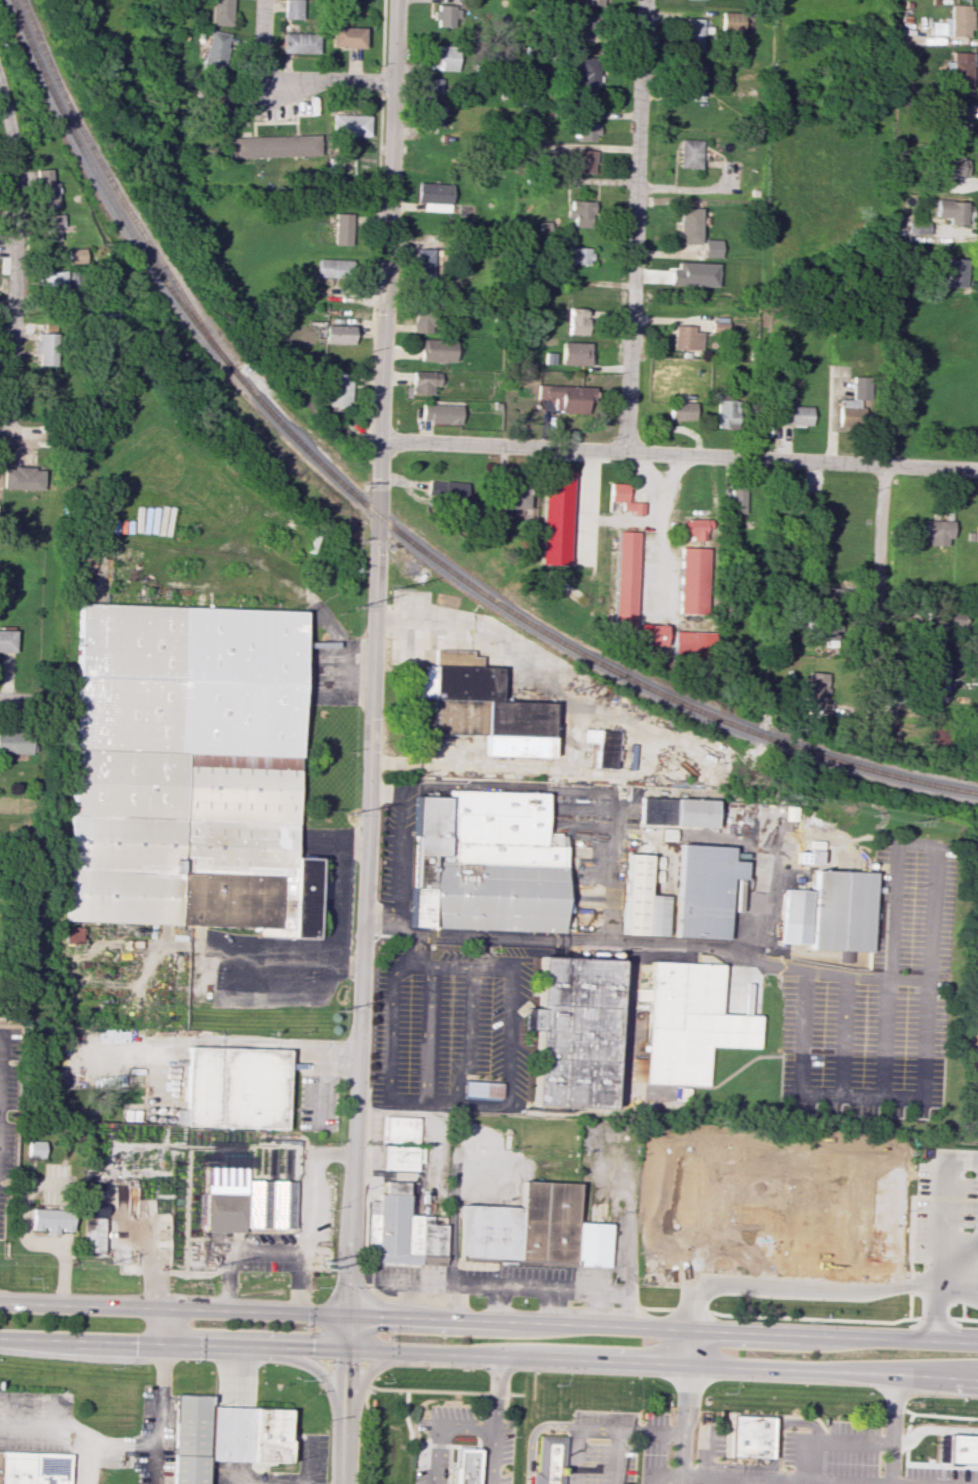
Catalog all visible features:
building: (593, 2)
building: (292, 9)
building: (222, 12)
building: (446, 15)
building: (958, 20)
building: (731, 21)
building: (591, 25)
building: (693, 34)
road: (383, 36)
building: (346, 37)
building: (299, 42)
road: (259, 43)
building: (216, 53)
building: (441, 55)
building: (958, 73)
building: (586, 74)
road: (332, 79)
park: (122, 81)
building: (694, 82)
building: (430, 89)
building: (213, 99)
building: (431, 117)
building: (956, 122)
building: (349, 125)
building: (585, 126)
building: (275, 146)
building: (688, 153)
building: (579, 161)
building: (949, 166)
railway: (114, 184)
building: (46, 189)
road: (688, 189)
building: (433, 192)
building: (949, 210)
building: (581, 213)
road: (633, 225)
building: (687, 225)
building: (51, 226)
building: (342, 228)
building: (710, 248)
building: (75, 255)
building: (579, 255)
road: (13, 260)
building: (422, 265)
building: (334, 268)
building: (954, 272)
building: (692, 274)
building: (52, 280)
building: (424, 321)
building: (577, 321)
building: (339, 334)
building: (686, 338)
building: (46, 348)
building: (437, 350)
building: (575, 353)
building: (424, 382)
building: (339, 388)
building: (566, 397)
building: (852, 403)
building: (681, 410)
building: (440, 413)
building: (726, 413)
building: (791, 413)
road: (16, 435)
road: (679, 453)
building: (22, 478)
road: (659, 483)
building: (448, 491)
building: (514, 495)
building: (623, 498)
building: (736, 501)
road: (587, 505)
building: (555, 518)
road: (641, 520)
railway: (388, 524)
building: (696, 529)
building: (937, 532)
building: (977, 532)
road: (657, 566)
building: (625, 577)
building: (693, 580)
power tower: (390, 586)
road: (878, 596)
power tower: (354, 606)
building: (940, 624)
building: (823, 629)
building: (651, 634)
building: (7, 640)
building: (693, 643)
road: (547, 682)
power tower: (571, 691)
building: (816, 691)
road: (21, 700)
building: (482, 706)
building: (939, 737)
building: (15, 742)
road: (369, 742)
building: (603, 746)
road: (419, 762)
building: (189, 769)
road: (385, 791)
road: (507, 792)
power tower: (775, 799)
building: (676, 811)
power tower: (346, 813)
power tower: (913, 818)
road: (401, 856)
building: (807, 857)
building: (485, 863)
road: (610, 868)
building: (653, 875)
building: (704, 889)
building: (641, 898)
road: (338, 902)
building: (842, 910)
building: (795, 916)
building: (566, 923)
building: (76, 934)
road: (418, 950)
building: (846, 956)
road: (474, 967)
road: (795, 968)
power tower: (337, 1011)
building: (689, 1022)
building: (572, 1032)
road: (432, 1034)
road: (468, 1036)
road: (510, 1036)
road: (252, 1043)
road: (390, 1045)
building: (636, 1070)
building: (237, 1087)
road: (2, 1089)
building: (481, 1090)
road: (860, 1097)
road: (468, 1103)
building: (399, 1129)
building: (36, 1148)
building: (399, 1158)
street lamp: (923, 1160)
street lamp: (966, 1174)
road: (946, 1198)
building: (247, 1201)
parking lot: (969, 1202)
street lamp: (909, 1209)
building: (96, 1210)
parking lot: (921, 1211)
building: (52, 1220)
building: (401, 1229)
building: (533, 1229)
street lamp: (964, 1229)
building: (93, 1235)
road: (958, 1242)
road: (303, 1247)
road: (150, 1256)
road: (910, 1257)
power tower: (102, 1259)
power tower: (211, 1263)
power tower: (327, 1266)
street lamp: (919, 1266)
road: (191, 1274)
road: (962, 1278)
road: (519, 1288)
road: (870, 1289)
street lamp: (759, 1299)
road: (410, 1301)
street lamp: (812, 1301)
road: (454, 1303)
street lamp: (863, 1303)
road: (497, 1305)
road: (553, 1307)
road: (961, 1307)
road: (921, 1308)
road: (597, 1309)
road: (935, 1309)
road: (946, 1310)
street lamp: (913, 1314)
traffic signals: (346, 1317)
road: (809, 1318)
street lamp: (809, 1321)
road: (489, 1322)
road: (161, 1325)
street lamp: (975, 1325)
traffic signals: (343, 1346)
road: (488, 1358)
road: (308, 1364)
road: (363, 1374)
road: (936, 1384)
road: (395, 1389)
street lamp: (726, 1392)
road: (496, 1394)
street lamp: (909, 1401)
road: (688, 1407)
street lamp: (609, 1408)
parking lot: (449, 1411)
street lamp: (672, 1412)
street lamp: (793, 1412)
parking lot: (604, 1415)
road: (765, 1415)
road: (945, 1415)
street lamp: (569, 1418)
street lamp: (882, 1419)
street lamp: (413, 1428)
road: (464, 1428)
road: (932, 1428)
road: (893, 1429)
road: (533, 1432)
road: (626, 1432)
street lamp: (515, 1435)
building: (254, 1436)
building: (750, 1436)
building: (190, 1438)
road: (579, 1438)
road: (828, 1440)
parking lot: (506, 1441)
parking lot: (720, 1441)
road: (414, 1444)
parking lot: (654, 1448)
building: (962, 1448)
road: (132, 1450)
road: (705, 1450)
road: (774, 1450)
parking lot: (831, 1454)
building: (549, 1461)
parking lot: (419, 1462)
road: (86, 1463)
road: (907, 1463)
parking lot: (609, 1464)
building: (464, 1465)
road: (481, 1465)
building: (32, 1469)
street lamp: (523, 1473)
street lamp: (637, 1475)
parking lot: (939, 1475)
road: (663, 1477)
road: (788, 1478)
parking lot: (505, 1479)
road: (902, 1483)

